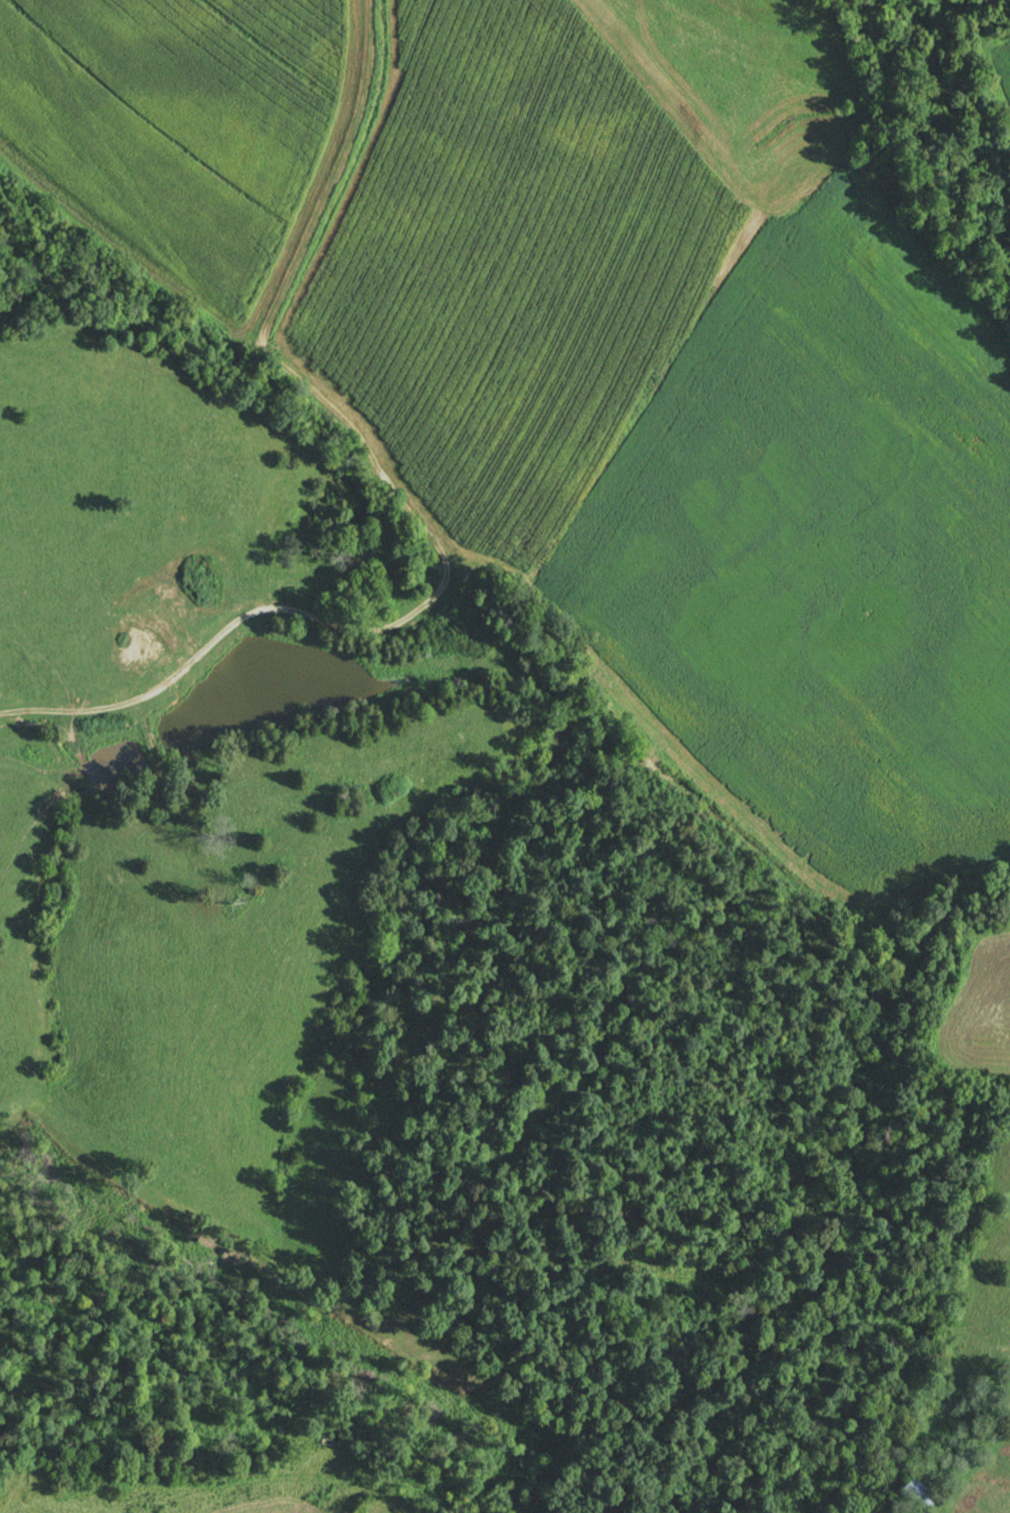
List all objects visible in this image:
road: (204, 653)
building: (923, 1493)

